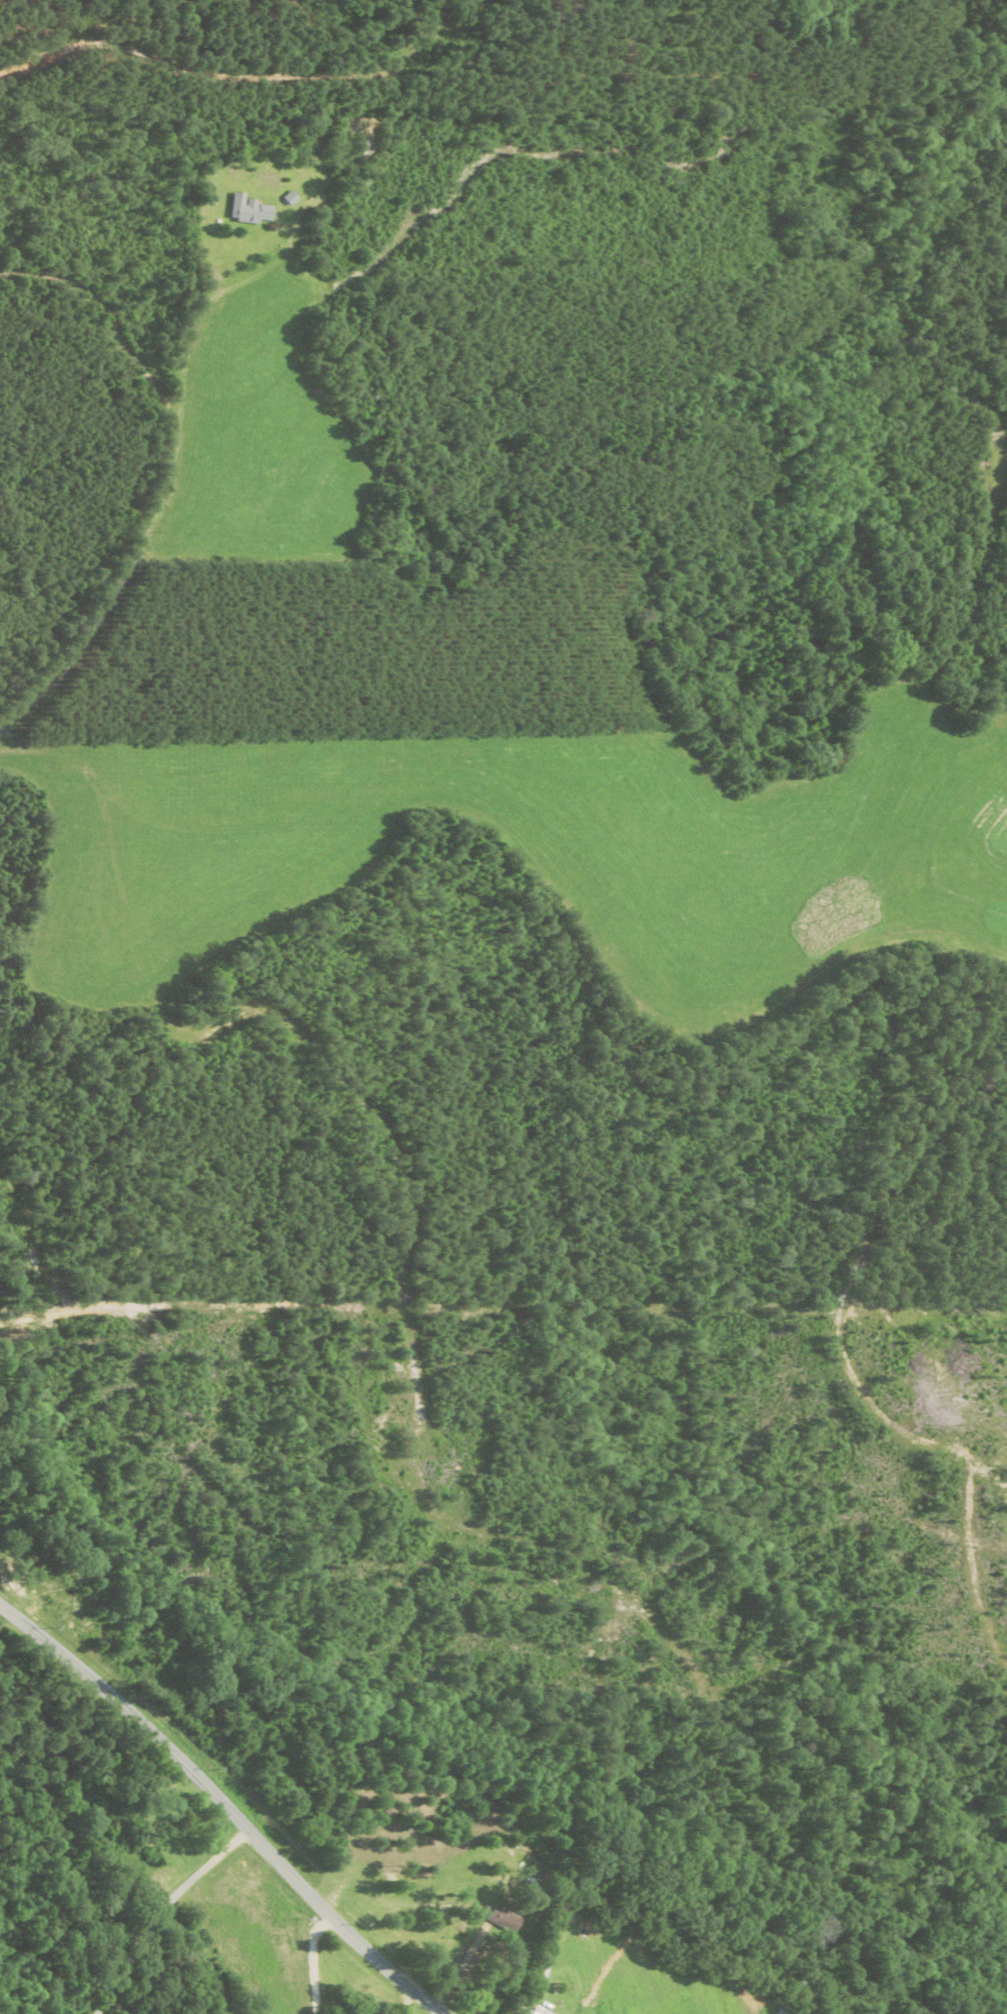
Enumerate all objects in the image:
building: (366, 149)
building: (251, 209)
road: (224, 1806)
road: (157, 1910)
building: (507, 1918)
building: (784, 2011)

